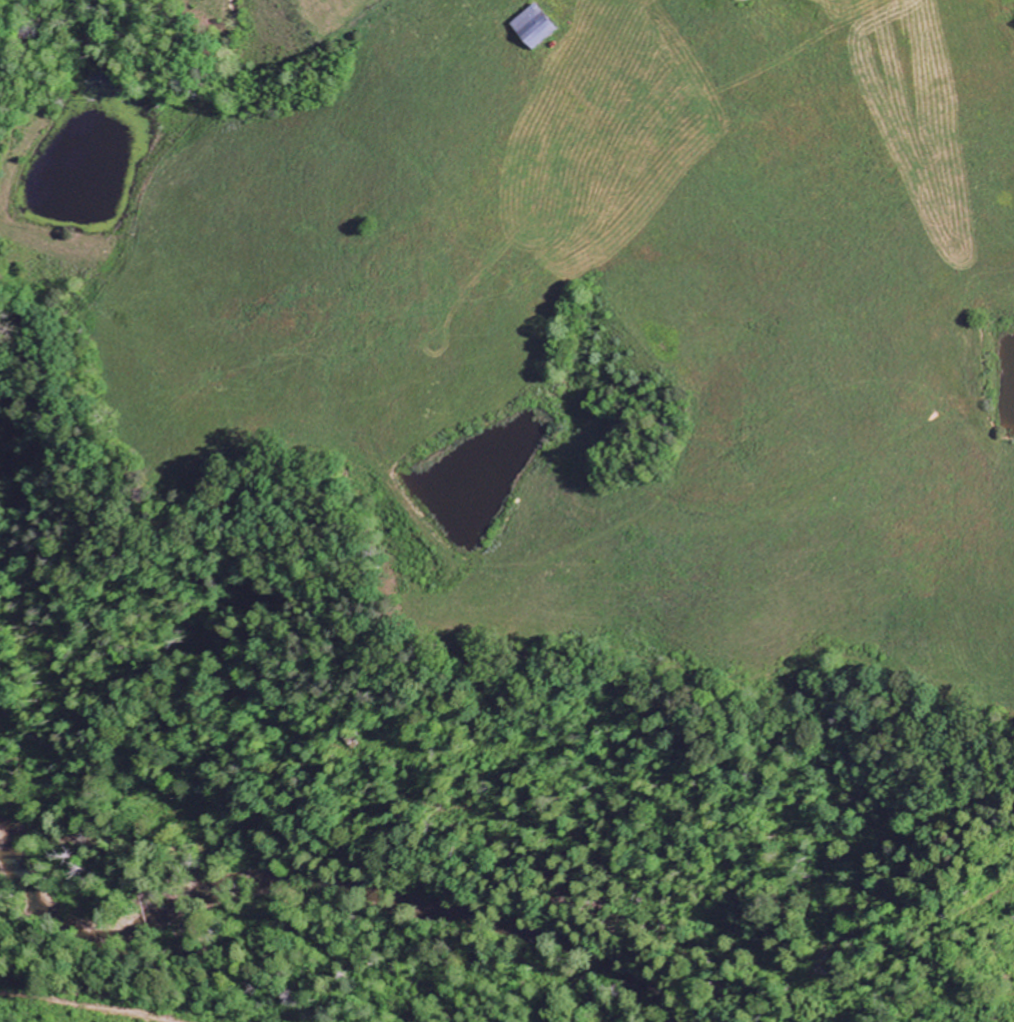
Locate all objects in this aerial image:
building: (531, 27)

